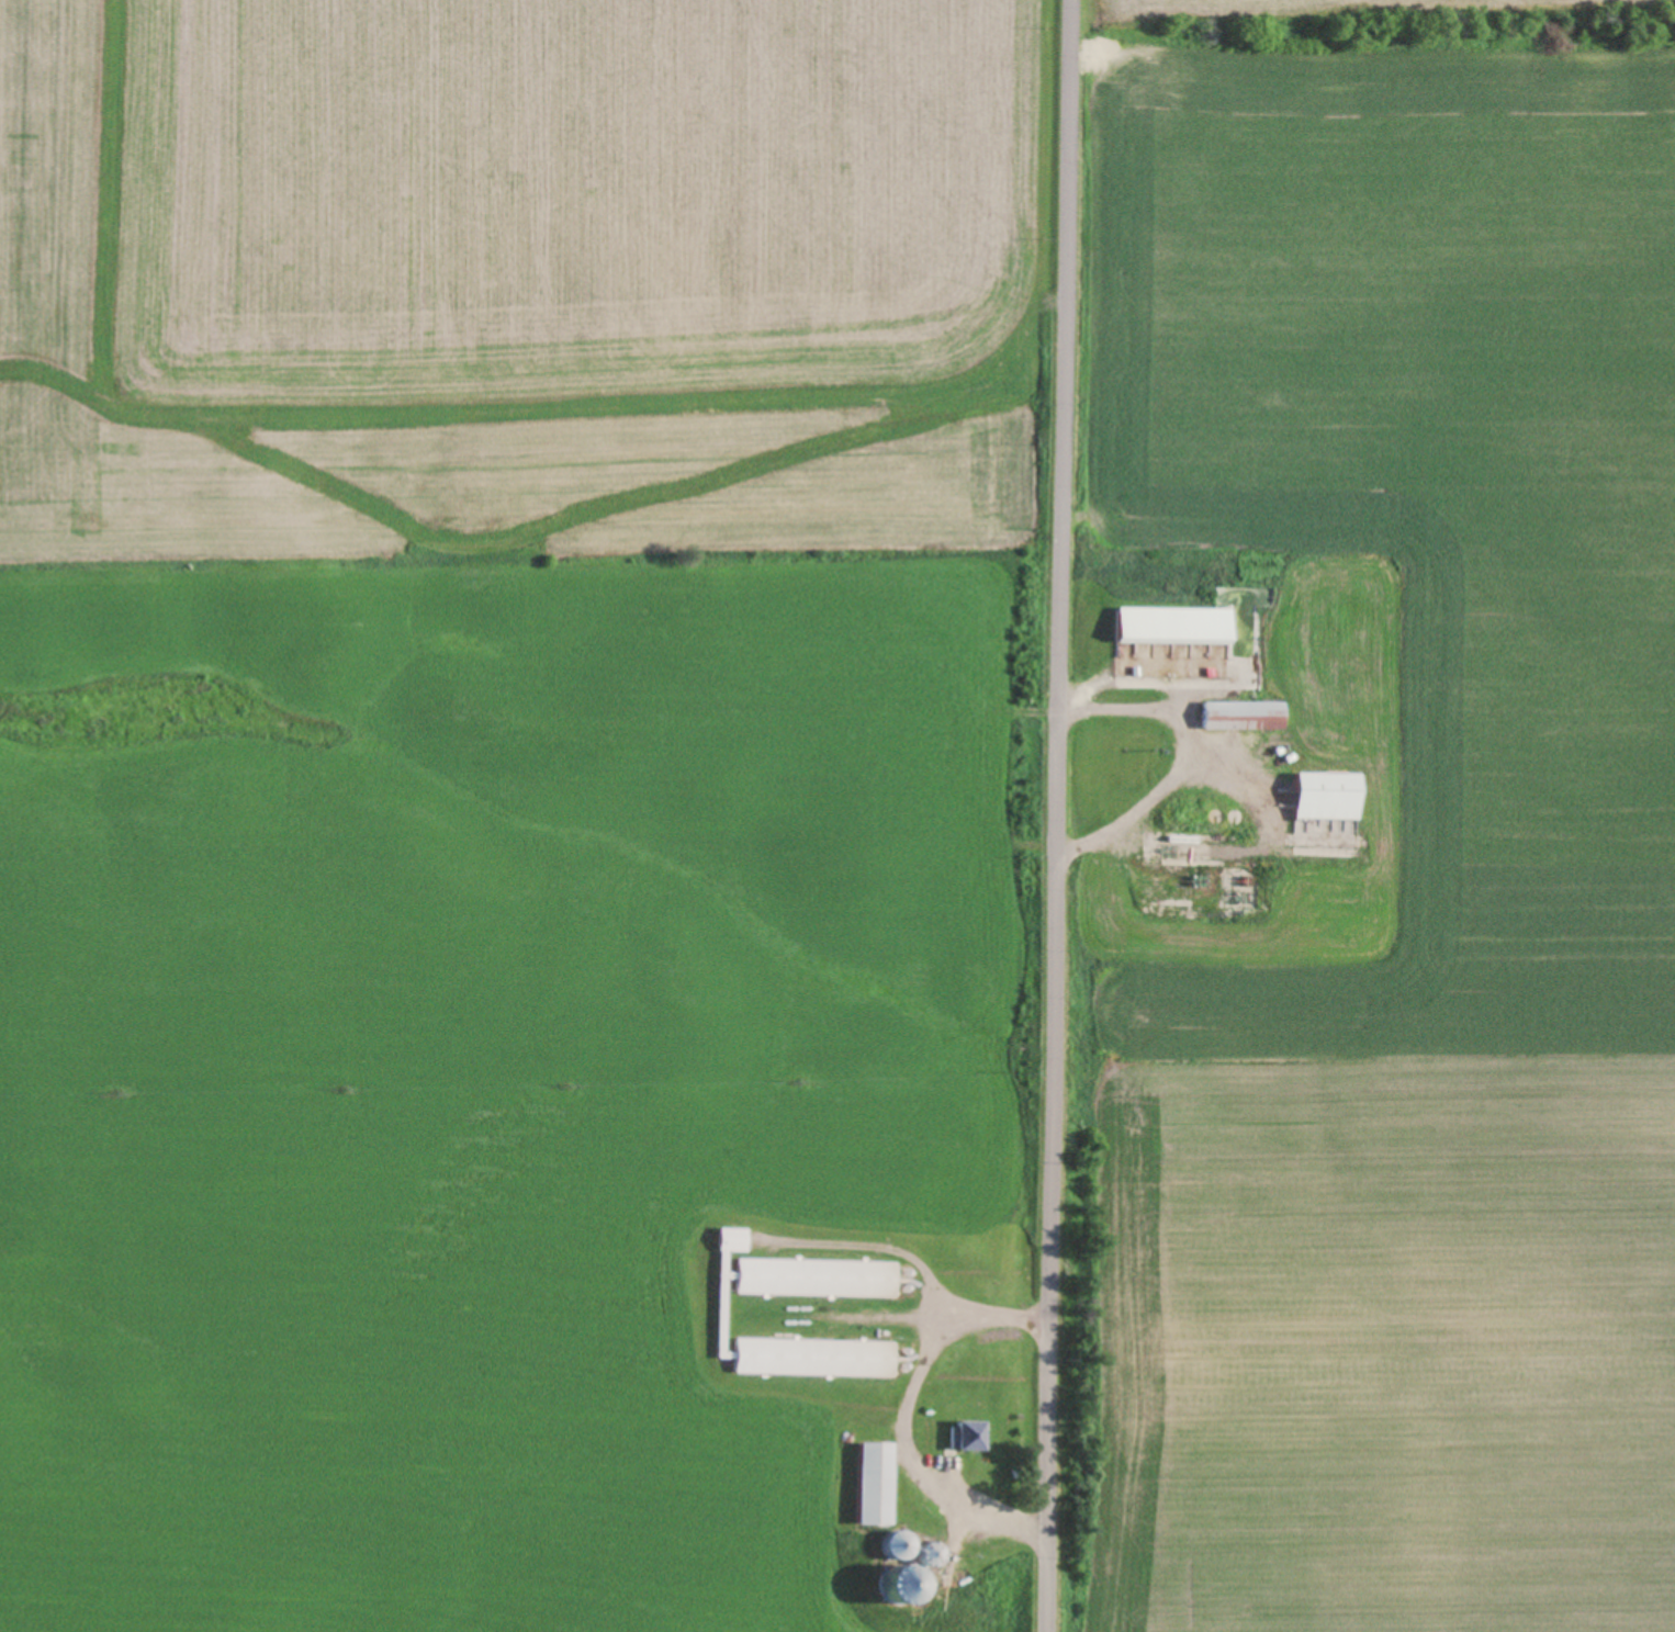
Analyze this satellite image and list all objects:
building: (1165, 628)
building: (1235, 718)
building: (1317, 798)
road: (1053, 815)
building: (719, 1320)
road: (899, 1415)
building: (960, 1438)
building: (867, 1486)
building: (922, 1554)

